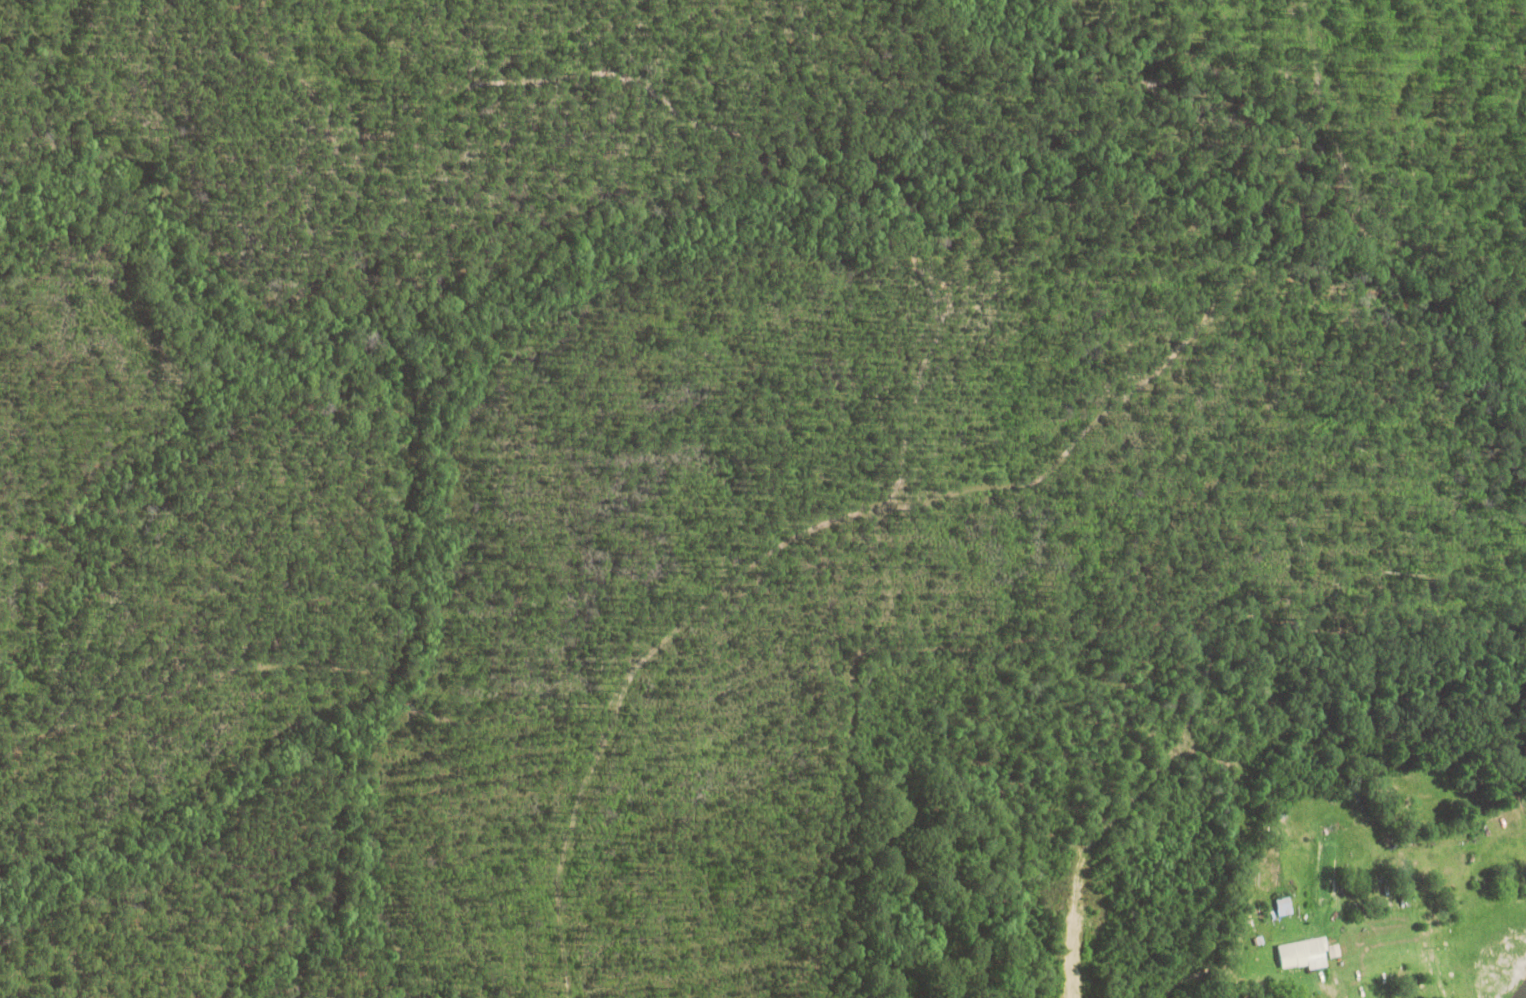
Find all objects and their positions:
building: (1285, 905)
building: (1300, 952)

